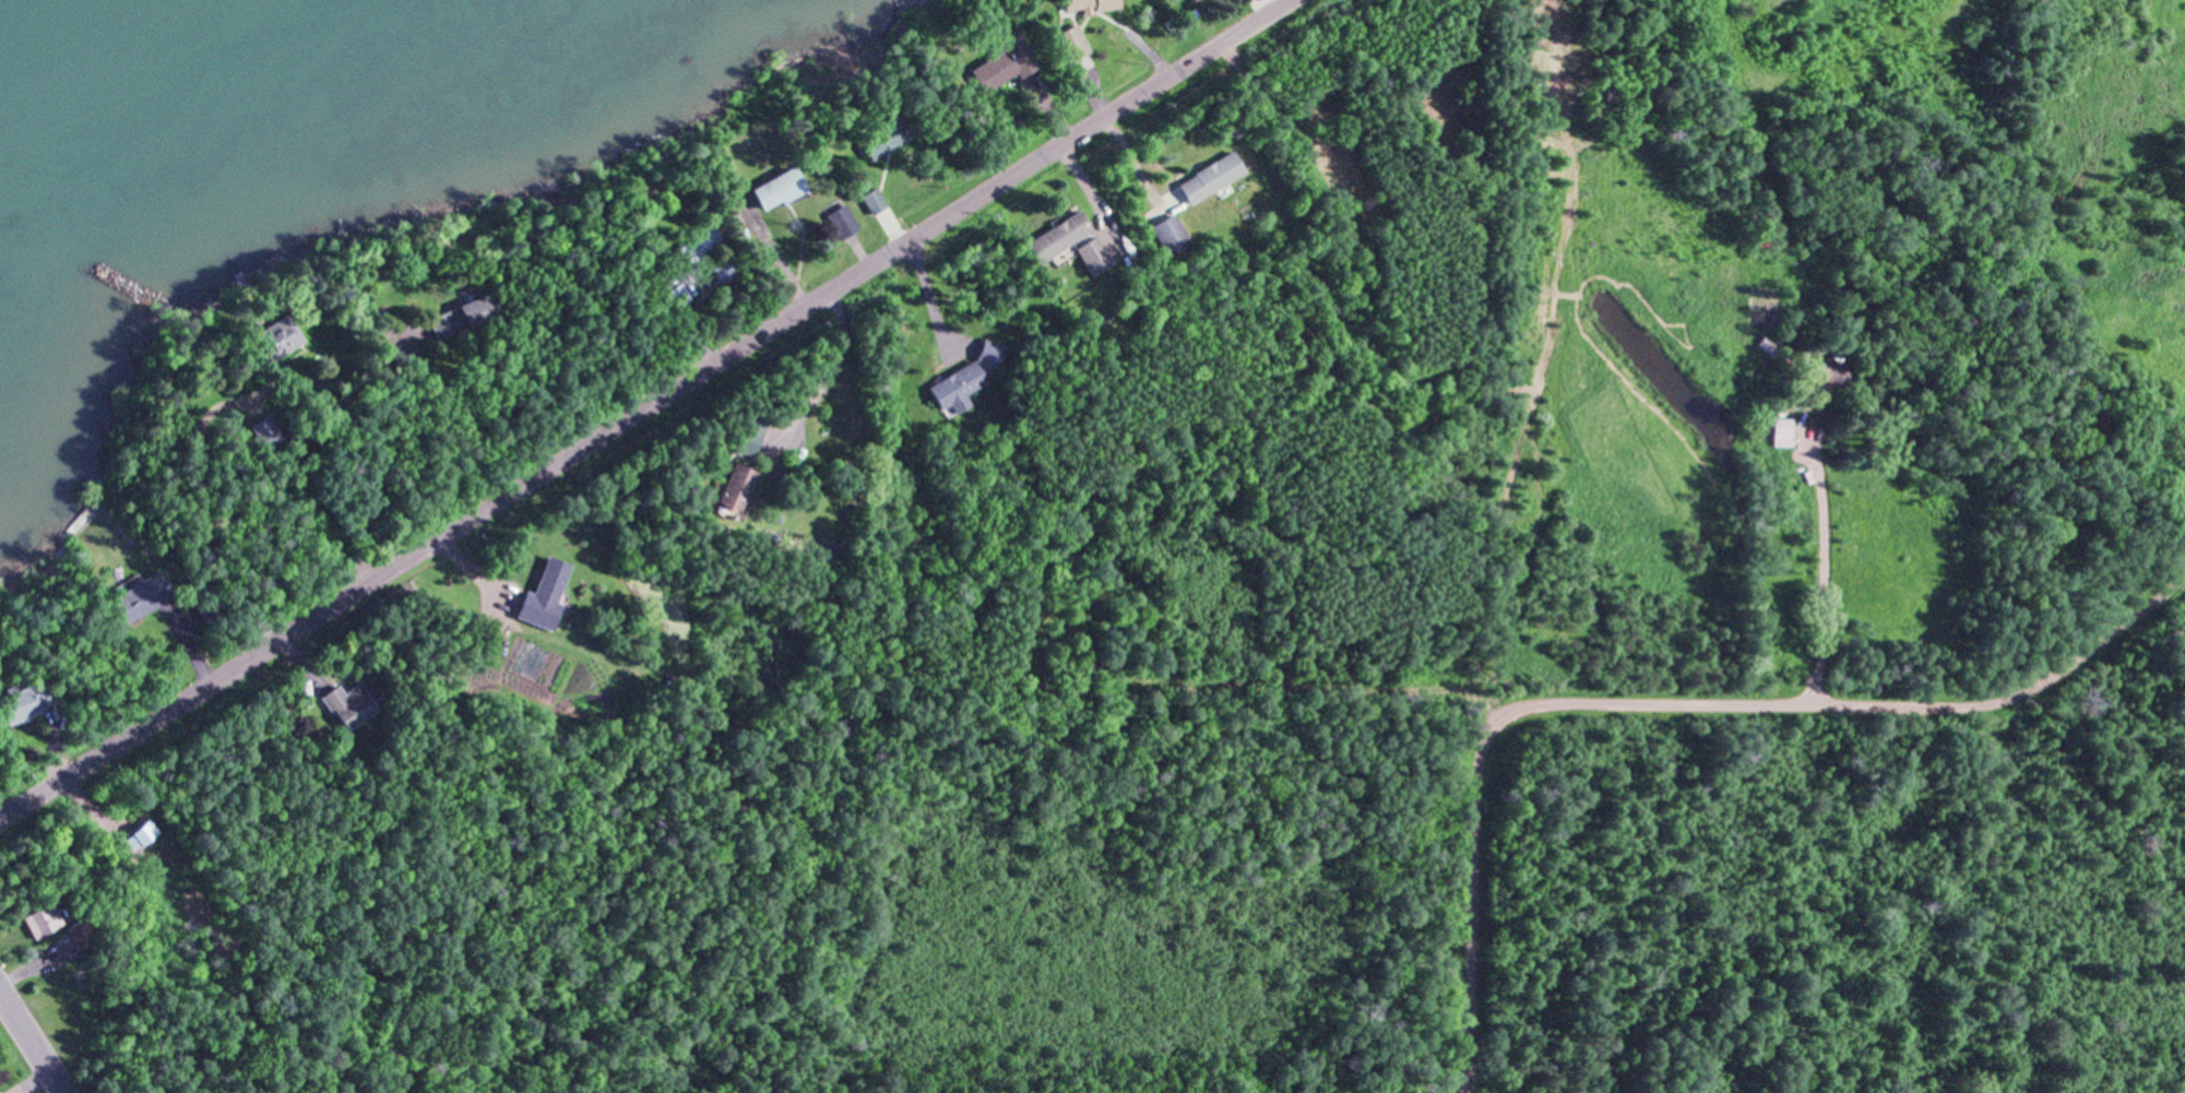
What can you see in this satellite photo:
building: (1086, 4)
building: (1069, 43)
building: (1002, 62)
building: (886, 135)
building: (1210, 176)
building: (777, 189)
building: (871, 200)
building: (840, 221)
building: (1169, 234)
building: (1059, 236)
building: (700, 242)
building: (1092, 254)
building: (725, 269)
building: (684, 293)
building: (461, 316)
building: (278, 336)
building: (1765, 345)
building: (987, 353)
building: (1828, 375)
building: (955, 387)
road: (643, 412)
building: (266, 430)
building: (1780, 431)
building: (750, 433)
building: (734, 486)
building: (828, 551)
road: (1825, 571)
building: (543, 594)
building: (145, 595)
building: (207, 608)
building: (26, 699)
building: (348, 703)
road: (1669, 703)
building: (40, 923)
building: (79, 931)
road: (31, 1042)

